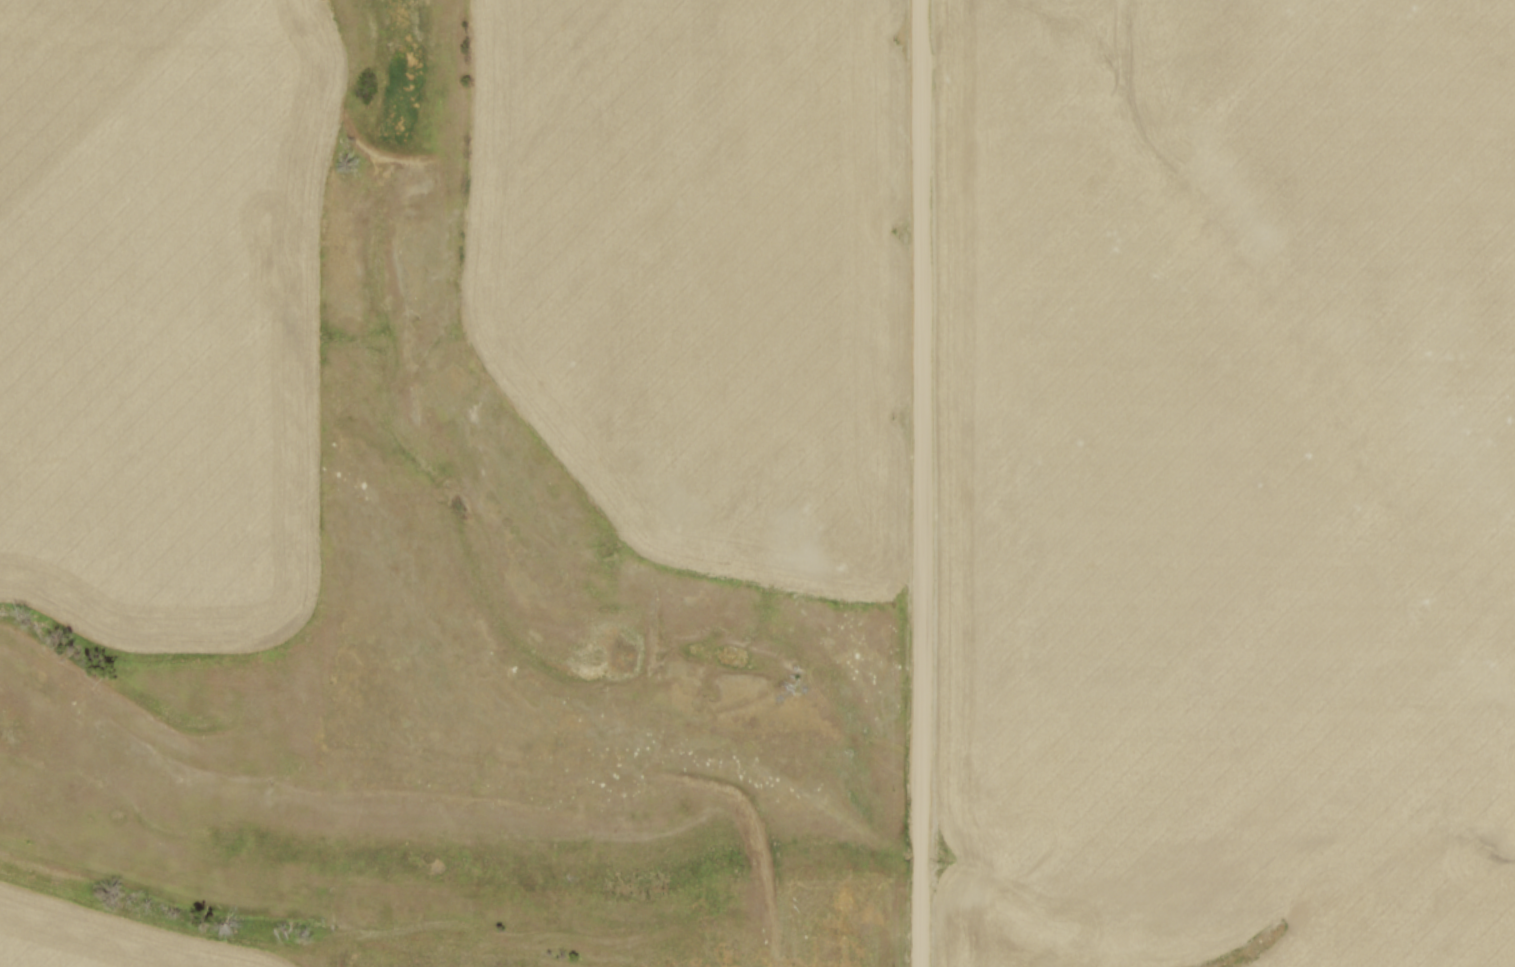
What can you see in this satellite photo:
crop: (706, 270)
crop: (164, 314)
road: (924, 483)
crop: (1230, 483)
crop: (113, 938)

